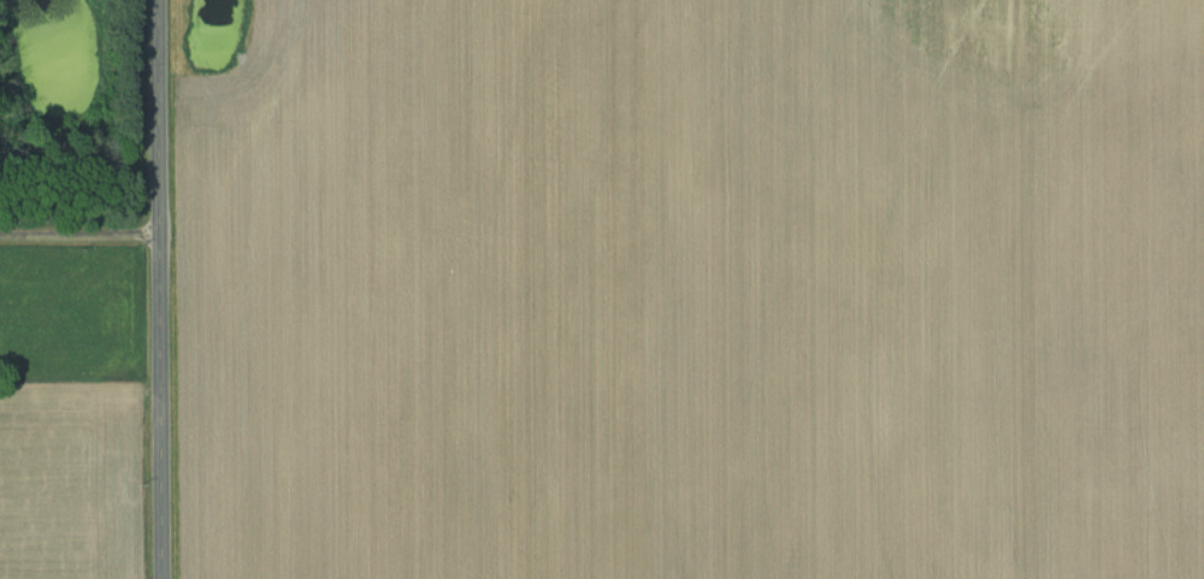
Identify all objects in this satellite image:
road: (79, 231)
road: (160, 289)

